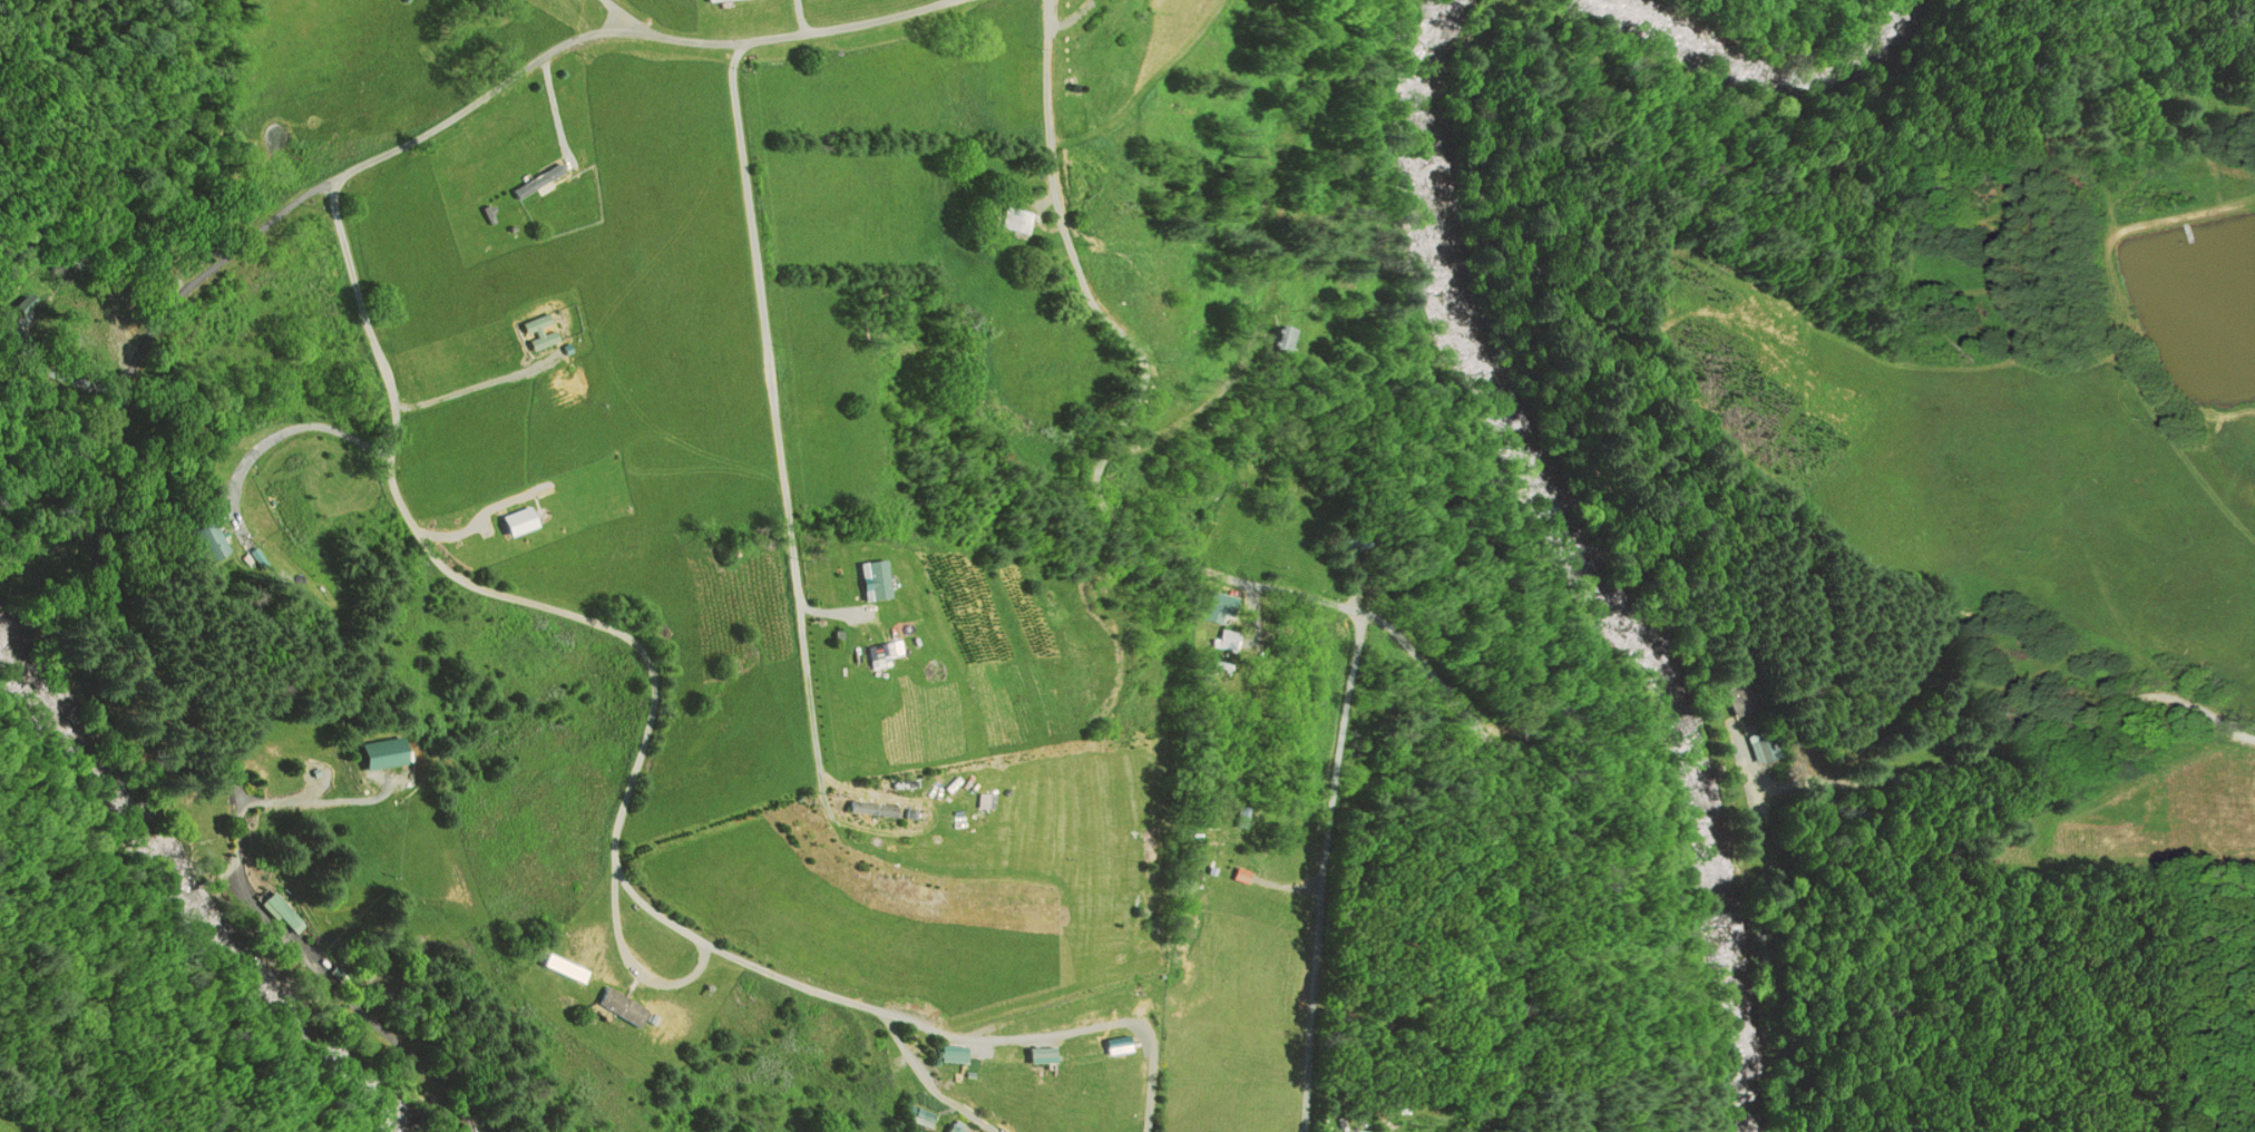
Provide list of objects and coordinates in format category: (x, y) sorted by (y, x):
road: (619, 14)
river: (1795, 52)
building: (534, 180)
building: (1012, 221)
building: (22, 304)
road: (1256, 330)
building: (533, 332)
building: (1275, 339)
road: (137, 354)
road: (777, 445)
building: (199, 540)
river: (1612, 562)
road: (1226, 575)
building: (877, 578)
building: (1221, 607)
road: (597, 626)
building: (1231, 640)
building: (1589, 648)
building: (1226, 667)
building: (1741, 697)
building: (379, 753)
building: (867, 809)
building: (1242, 818)
building: (1204, 835)
road: (1316, 869)
river: (207, 871)
road: (1488, 944)
building: (617, 1007)
road: (1068, 1031)
building: (943, 1054)
building: (1034, 1055)
road: (1693, 1080)
road: (928, 1083)
building: (912, 1116)
building: (949, 1129)

